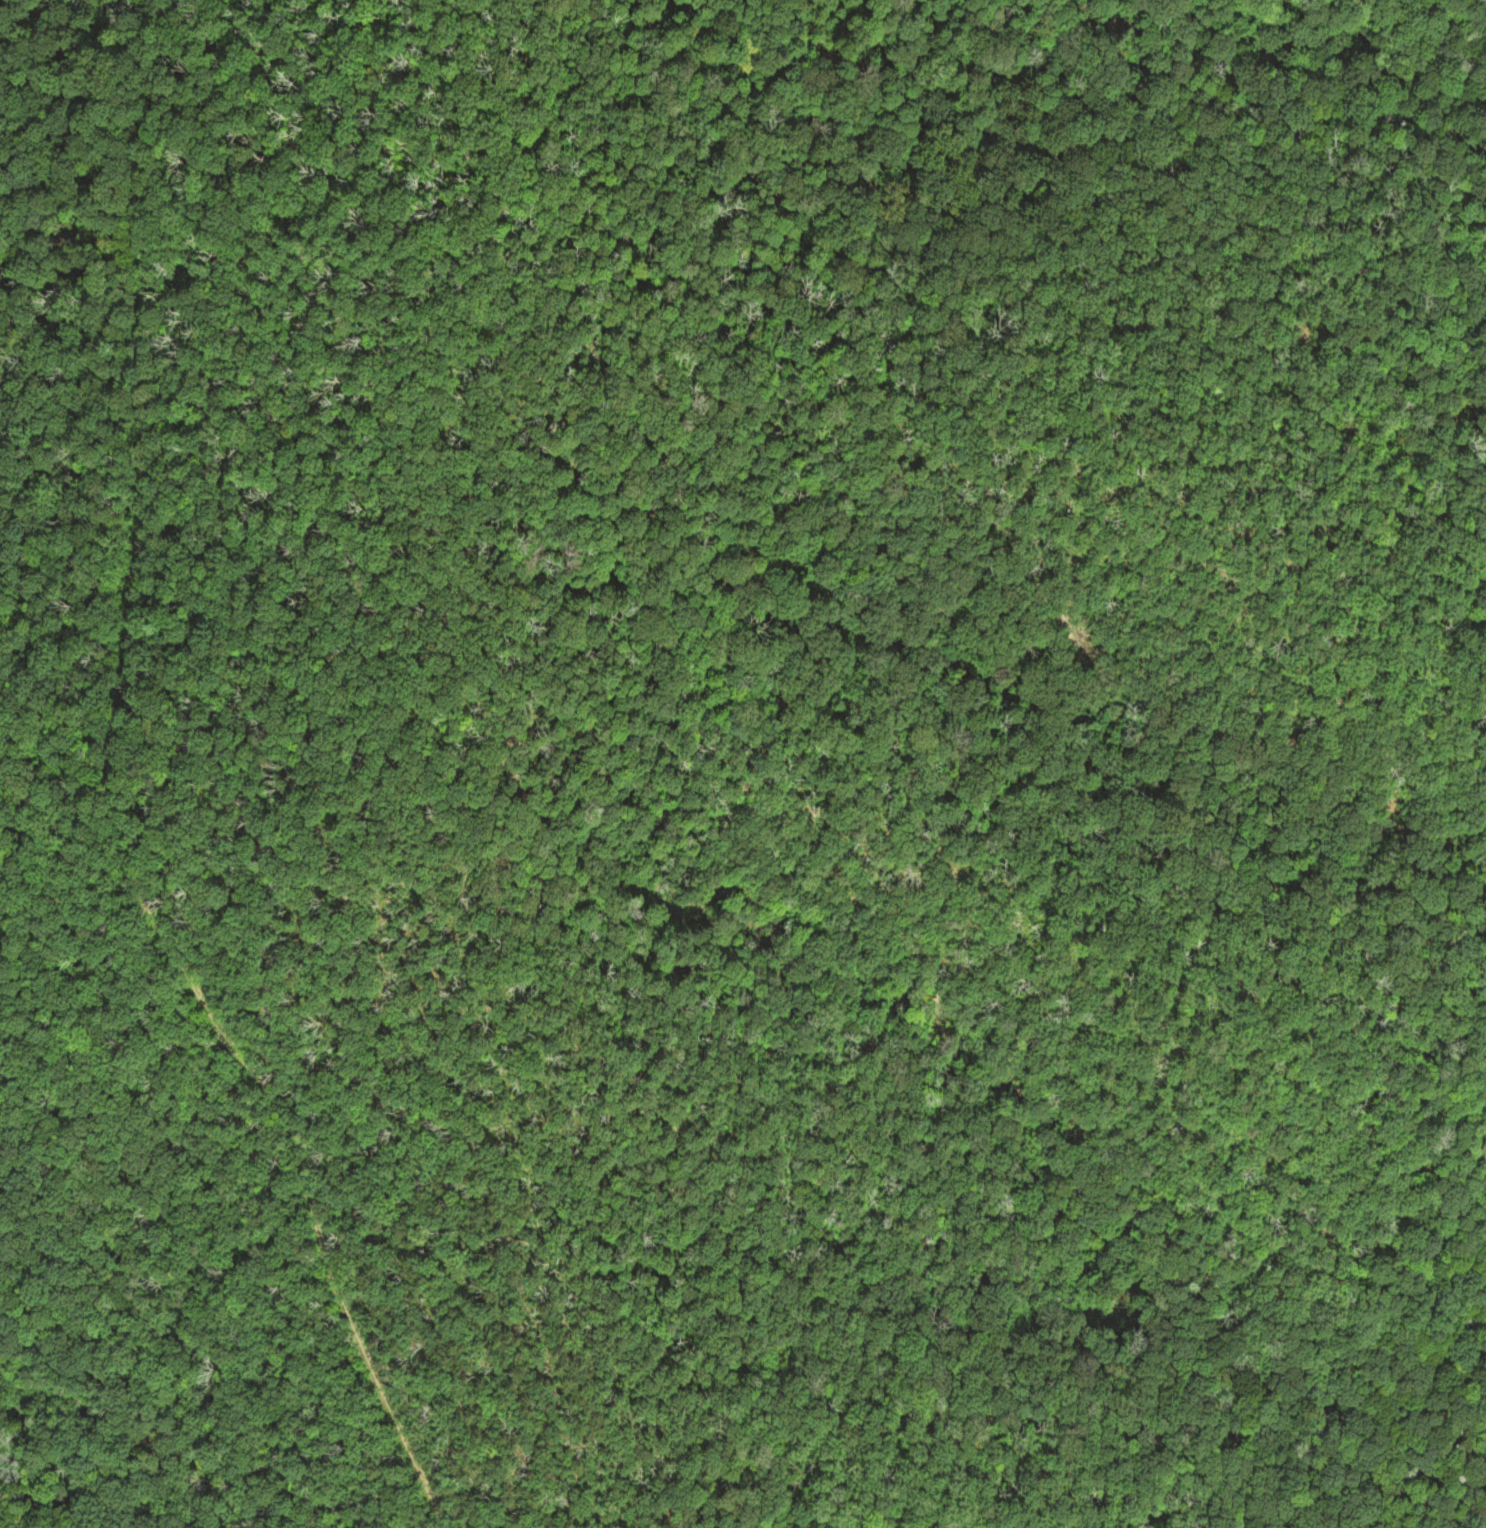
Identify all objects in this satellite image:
road: (1471, 72)
road: (116, 802)
road: (80, 1494)
road: (1458, 1504)

